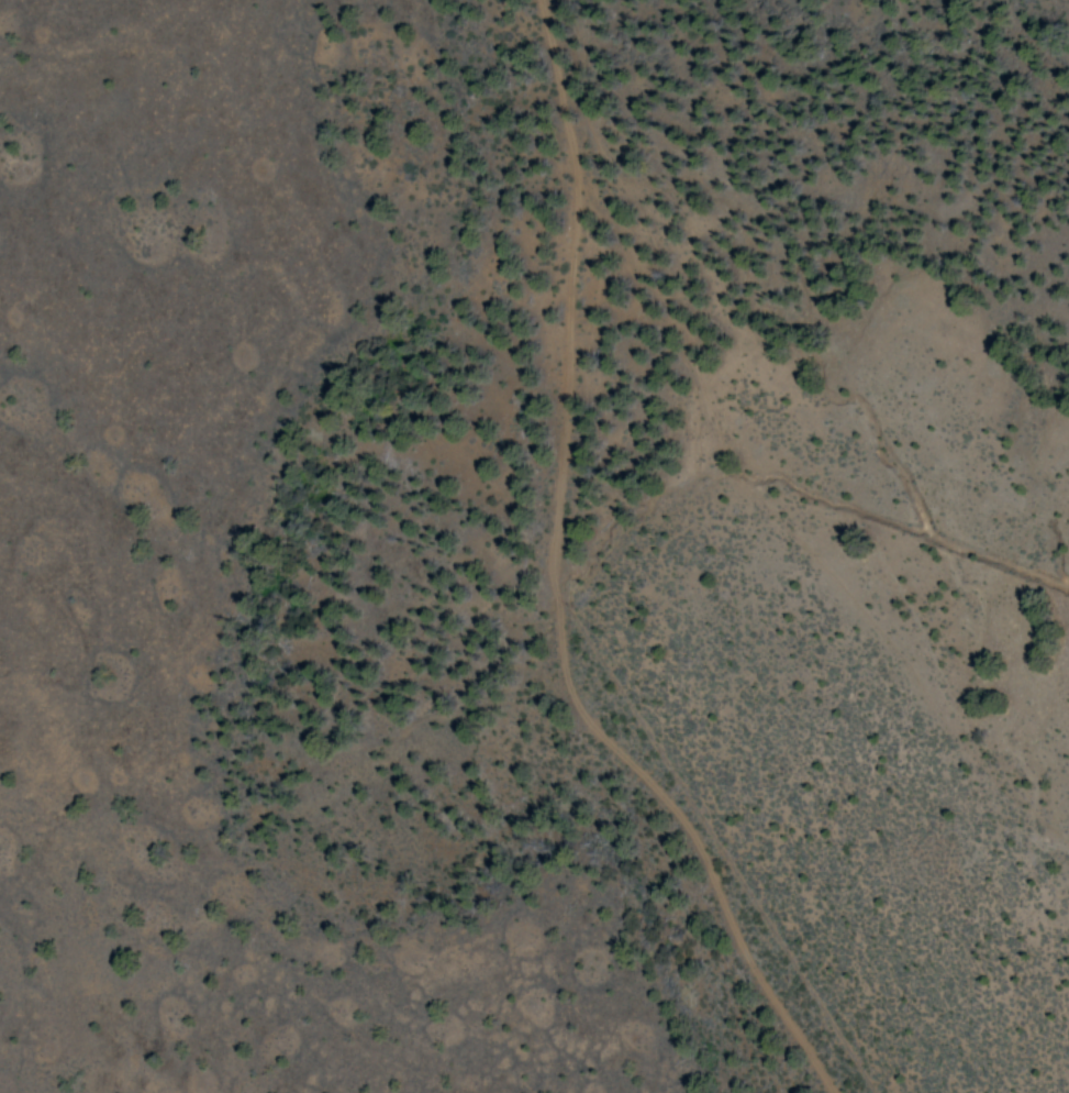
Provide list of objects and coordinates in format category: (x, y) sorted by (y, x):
road: (554, 587)

